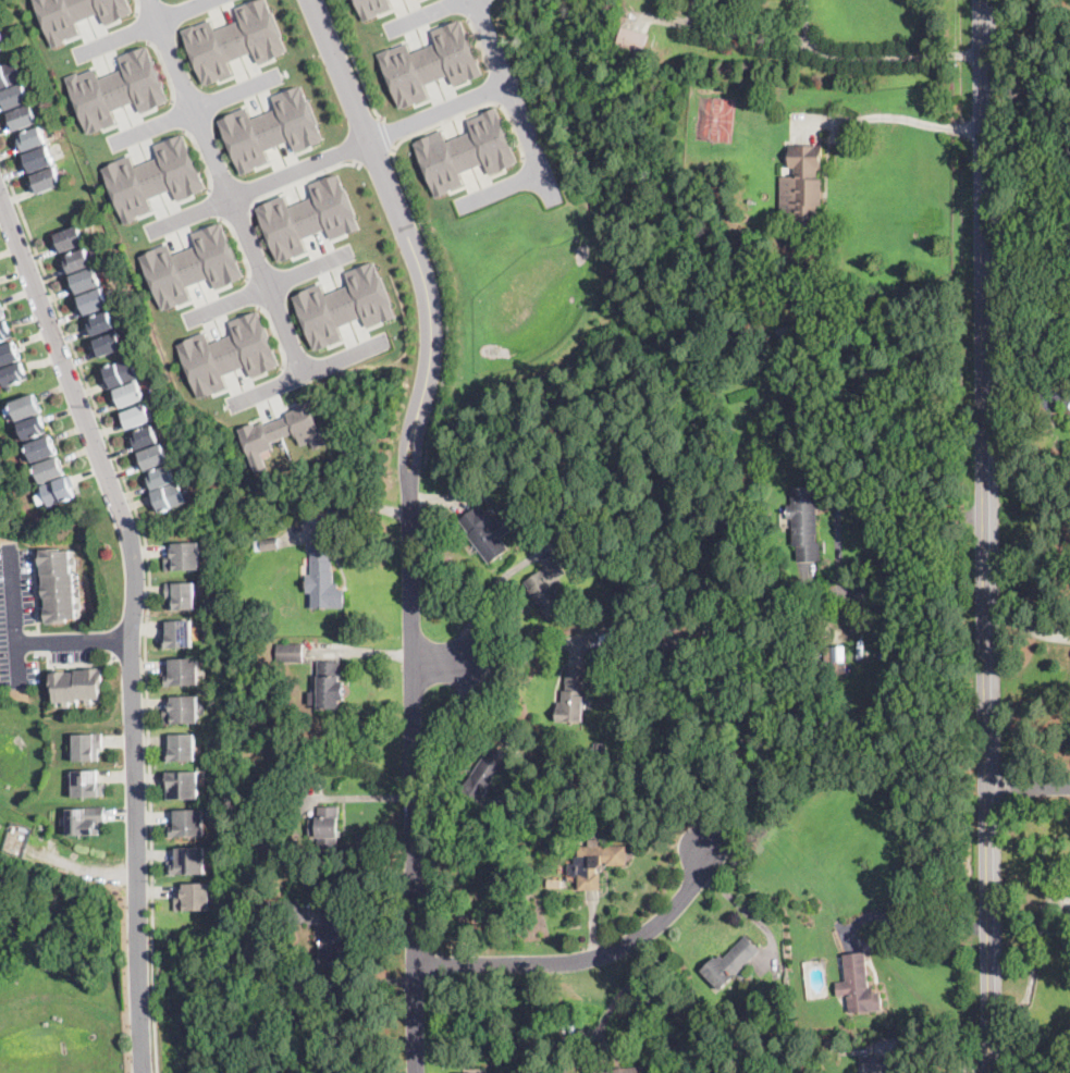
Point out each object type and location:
building: (372, 7)
building: (76, 14)
road: (423, 15)
road: (143, 28)
building: (613, 38)
building: (235, 39)
building: (632, 40)
building: (2, 42)
road: (871, 57)
road: (354, 61)
building: (430, 62)
building: (10, 74)
road: (509, 86)
road: (1028, 87)
building: (119, 88)
building: (15, 97)
road: (197, 109)
building: (24, 118)
road: (910, 118)
building: (272, 127)
road: (386, 131)
building: (33, 138)
building: (467, 150)
road: (330, 157)
road: (377, 157)
building: (39, 159)
building: (157, 176)
building: (47, 180)
road: (302, 181)
building: (802, 186)
road: (226, 188)
road: (503, 189)
building: (308, 215)
road: (420, 221)
building: (70, 238)
building: (78, 261)
building: (192, 266)
building: (86, 281)
road: (269, 286)
building: (738, 288)
building: (787, 298)
building: (94, 301)
building: (345, 305)
building: (1, 313)
building: (101, 323)
building: (4, 331)
building: (785, 335)
building: (110, 344)
building: (8, 354)
building: (229, 354)
building: (121, 372)
building: (14, 373)
road: (308, 375)
building: (130, 394)
road: (985, 394)
building: (26, 407)
building: (9, 411)
building: (137, 417)
building: (33, 428)
building: (283, 432)
building: (145, 437)
building: (41, 449)
building: (153, 457)
building: (485, 460)
building: (50, 470)
building: (161, 477)
building: (60, 491)
building: (168, 497)
road: (413, 522)
building: (805, 522)
building: (487, 533)
building: (613, 540)
road: (131, 541)
road: (903, 542)
building: (270, 544)
building: (258, 545)
building: (184, 556)
building: (603, 565)
building: (323, 580)
building: (58, 584)
building: (548, 589)
building: (182, 593)
road: (483, 599)
road: (149, 601)
road: (12, 615)
building: (266, 628)
building: (179, 633)
building: (679, 638)
road: (74, 643)
building: (290, 652)
building: (835, 657)
road: (514, 661)
road: (436, 663)
building: (183, 670)
building: (77, 684)
building: (329, 687)
building: (573, 696)
building: (183, 710)
road: (492, 726)
building: (87, 744)
building: (182, 747)
building: (485, 773)
building: (87, 782)
building: (183, 785)
road: (1028, 788)
building: (900, 801)
building: (85, 818)
building: (187, 822)
building: (327, 829)
building: (534, 840)
building: (188, 860)
building: (595, 864)
building: (555, 884)
building: (195, 896)
building: (259, 908)
road: (925, 928)
road: (989, 930)
building: (562, 937)
building: (332, 939)
road: (588, 960)
building: (730, 963)
road: (145, 964)
road: (637, 975)
building: (858, 985)
building: (810, 995)
building: (779, 999)
road: (606, 1011)
building: (692, 1015)
road: (602, 1029)
road: (147, 1044)
building: (876, 1064)
building: (630, 1070)
building: (478, 1072)

